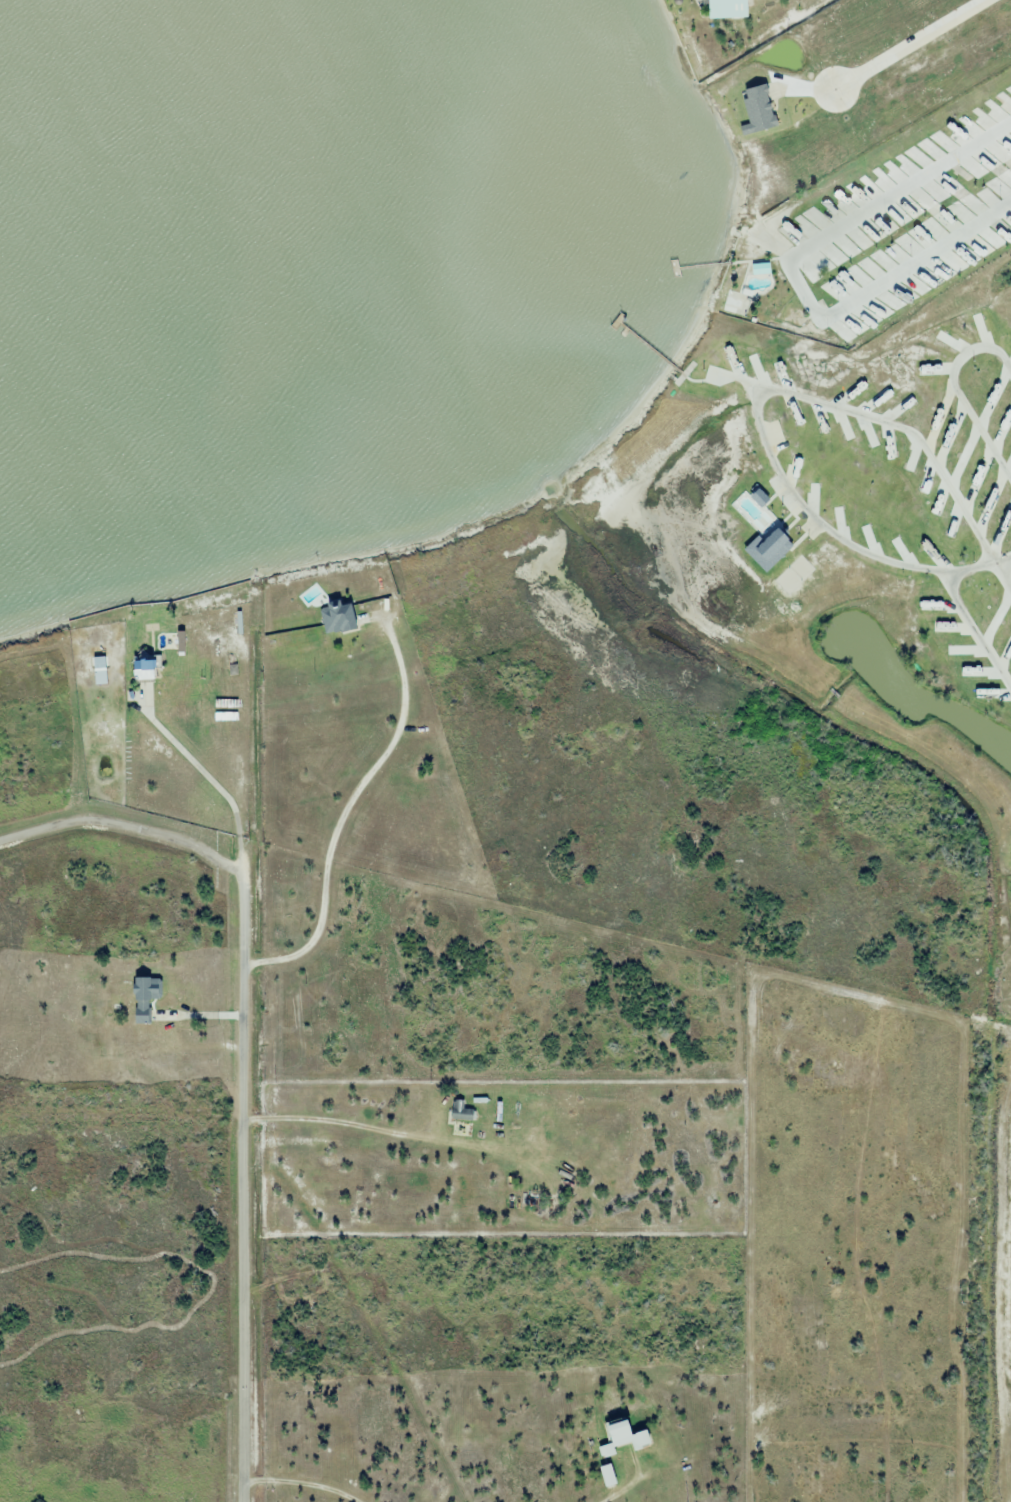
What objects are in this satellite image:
building: (725, 9)
building: (760, 268)
road: (789, 273)
building: (336, 617)
building: (142, 668)
road: (344, 807)
road: (123, 825)
building: (145, 997)
road: (196, 1014)
road: (241, 1097)
building: (461, 1111)
building: (622, 1438)
building: (607, 1475)
road: (301, 1481)
road: (624, 1485)

